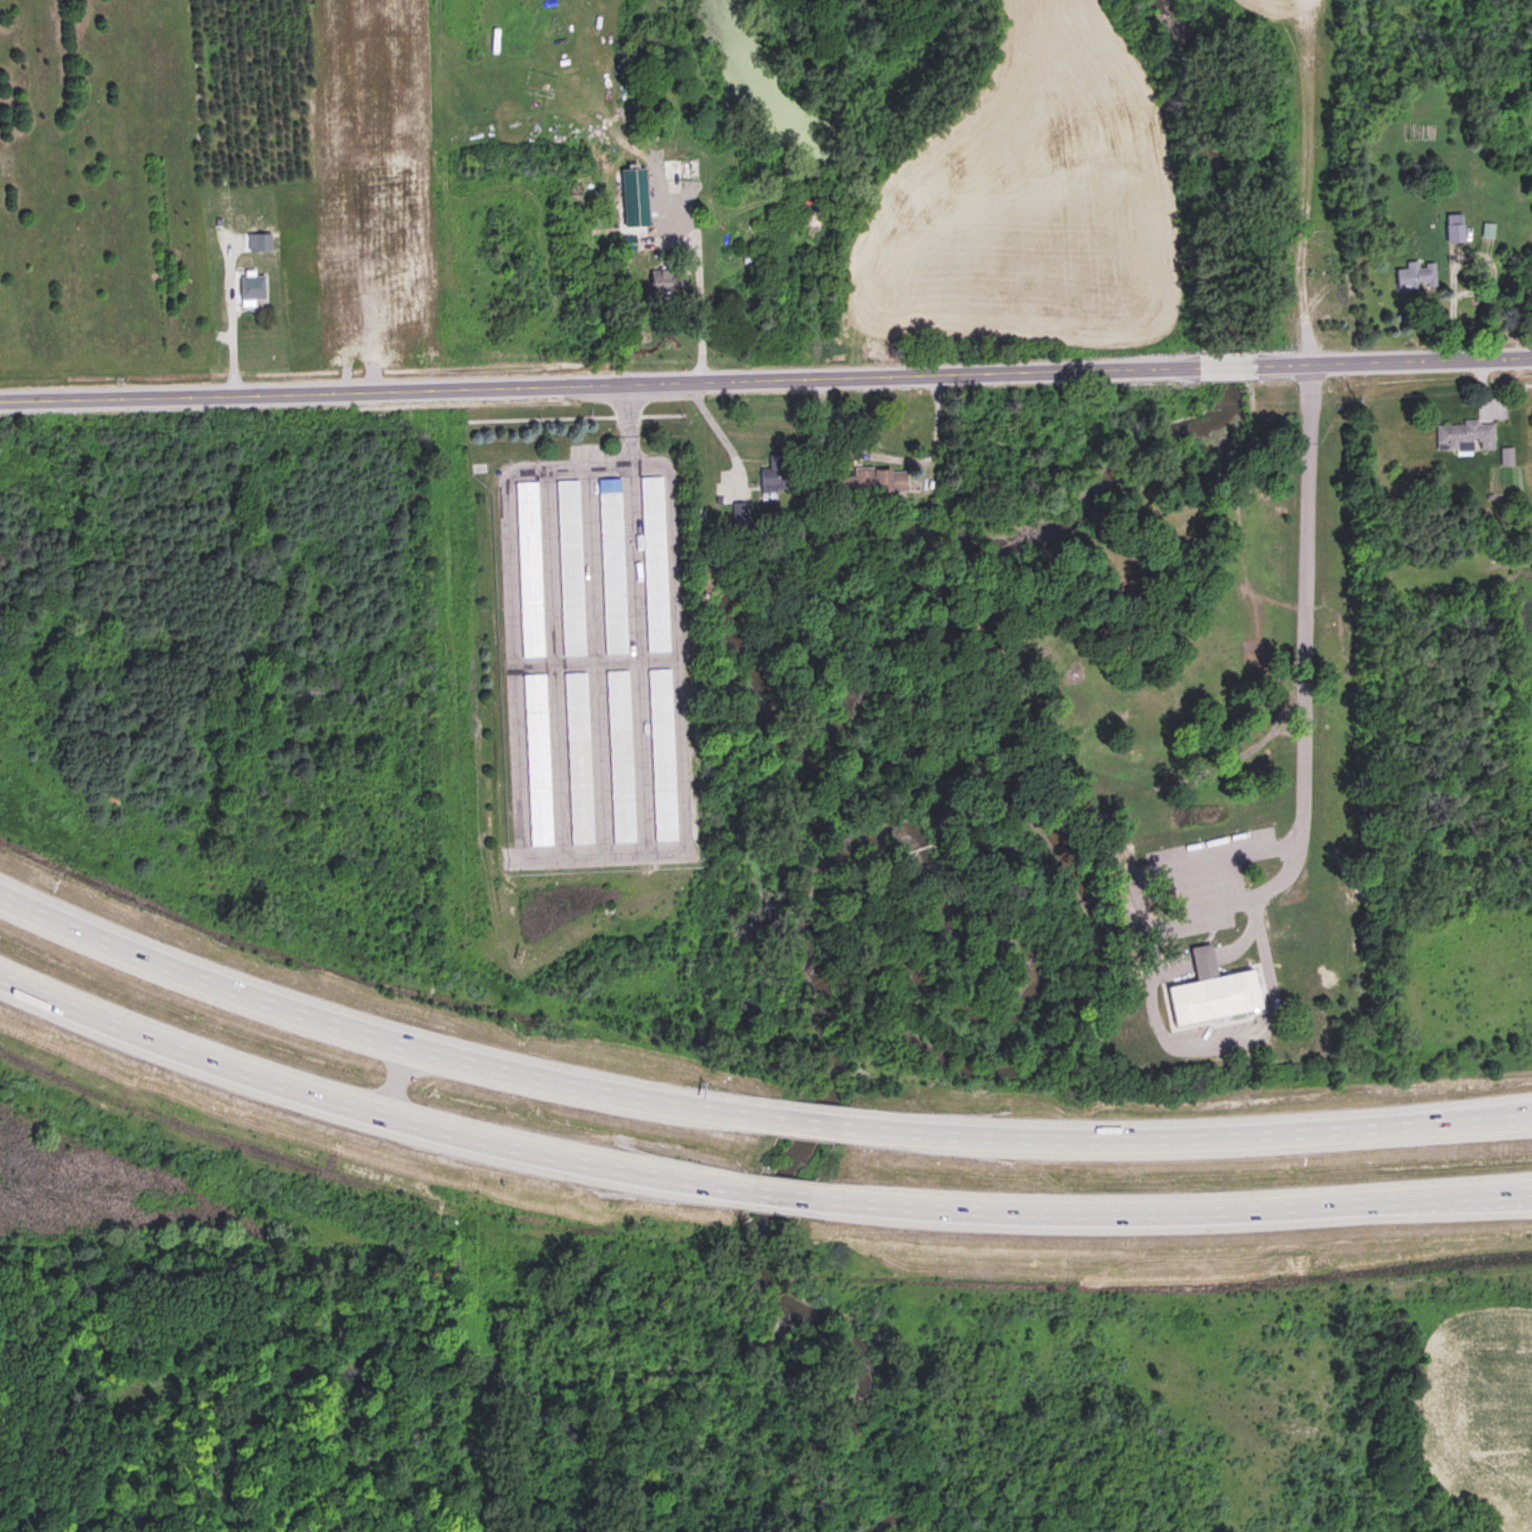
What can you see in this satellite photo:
building: (674, 171)
building: (634, 216)
building: (1453, 228)
building: (1487, 230)
building: (626, 244)
building: (309, 260)
road: (1454, 262)
building: (1415, 275)
building: (664, 282)
building: (379, 283)
building: (250, 288)
road: (694, 292)
road: (766, 375)
road: (1525, 384)
road: (713, 427)
building: (1464, 435)
road: (602, 466)
building: (771, 474)
building: (868, 483)
building: (650, 564)
building: (608, 566)
building: (566, 567)
building: (525, 569)
road: (628, 613)
road: (548, 643)
road: (589, 658)
road: (510, 702)
building: (658, 753)
building: (616, 755)
building: (574, 757)
building: (534, 759)
road: (1183, 864)
road: (1290, 873)
road: (1236, 944)
road: (1199, 957)
road: (1169, 964)
building: (1208, 992)
road: (749, 1110)
road: (750, 1192)

